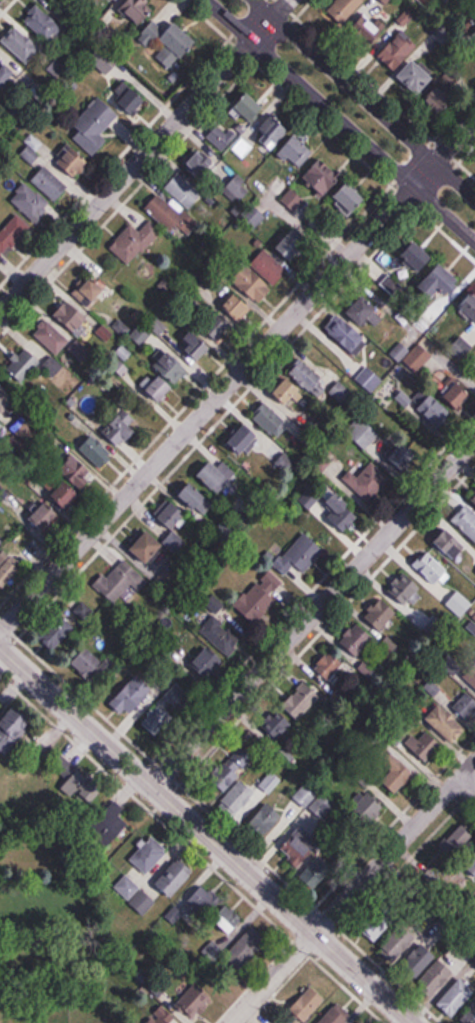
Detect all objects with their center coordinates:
building: (110, 0)
building: (70, 4)
building: (344, 9)
building: (137, 10)
building: (42, 23)
building: (366, 35)
building: (21, 44)
building: (175, 45)
building: (398, 52)
building: (5, 74)
building: (416, 76)
road: (375, 88)
road: (365, 99)
building: (132, 101)
building: (439, 101)
building: (248, 109)
road: (340, 120)
building: (94, 126)
road: (329, 129)
building: (272, 131)
building: (229, 141)
building: (297, 152)
road: (144, 154)
building: (69, 160)
building: (200, 164)
building: (323, 176)
building: (50, 182)
building: (183, 190)
building: (352, 198)
building: (30, 202)
building: (168, 214)
building: (252, 216)
building: (12, 232)
building: (135, 242)
building: (294, 243)
building: (417, 256)
building: (439, 284)
building: (389, 286)
building: (258, 287)
building: (90, 291)
building: (236, 306)
building: (469, 308)
building: (363, 310)
building: (72, 316)
building: (218, 325)
building: (346, 334)
building: (51, 336)
building: (196, 343)
building: (461, 349)
building: (418, 357)
building: (472, 363)
building: (23, 366)
building: (173, 366)
road: (237, 375)
building: (305, 375)
building: (369, 379)
building: (160, 387)
building: (340, 392)
building: (457, 394)
building: (6, 400)
building: (433, 412)
building: (268, 417)
building: (122, 428)
building: (362, 432)
building: (244, 438)
building: (96, 450)
building: (400, 454)
building: (214, 473)
building: (73, 480)
building: (368, 483)
building: (193, 495)
building: (309, 498)
building: (340, 511)
building: (173, 514)
building: (44, 516)
building: (465, 521)
building: (147, 546)
building: (457, 547)
building: (299, 555)
building: (431, 567)
building: (7, 569)
building: (120, 579)
building: (406, 589)
building: (259, 596)
road: (314, 611)
building: (381, 614)
building: (221, 635)
building: (357, 638)
building: (207, 661)
building: (91, 665)
building: (330, 666)
building: (474, 668)
building: (473, 680)
building: (132, 695)
building: (300, 700)
building: (466, 705)
building: (164, 709)
building: (13, 718)
building: (446, 722)
building: (277, 724)
building: (425, 745)
building: (230, 774)
building: (396, 774)
road: (468, 780)
building: (79, 782)
building: (250, 792)
building: (305, 795)
building: (322, 806)
building: (368, 806)
building: (265, 819)
building: (110, 822)
road: (206, 834)
building: (461, 837)
road: (393, 846)
building: (148, 855)
building: (317, 870)
building: (175, 877)
building: (127, 888)
building: (203, 901)
building: (142, 902)
building: (228, 919)
building: (378, 925)
building: (398, 944)
building: (246, 948)
building: (421, 958)
road: (270, 978)
building: (435, 979)
building: (456, 997)
building: (195, 1001)
building: (308, 1003)
building: (470, 1013)
building: (337, 1015)
building: (162, 1018)

